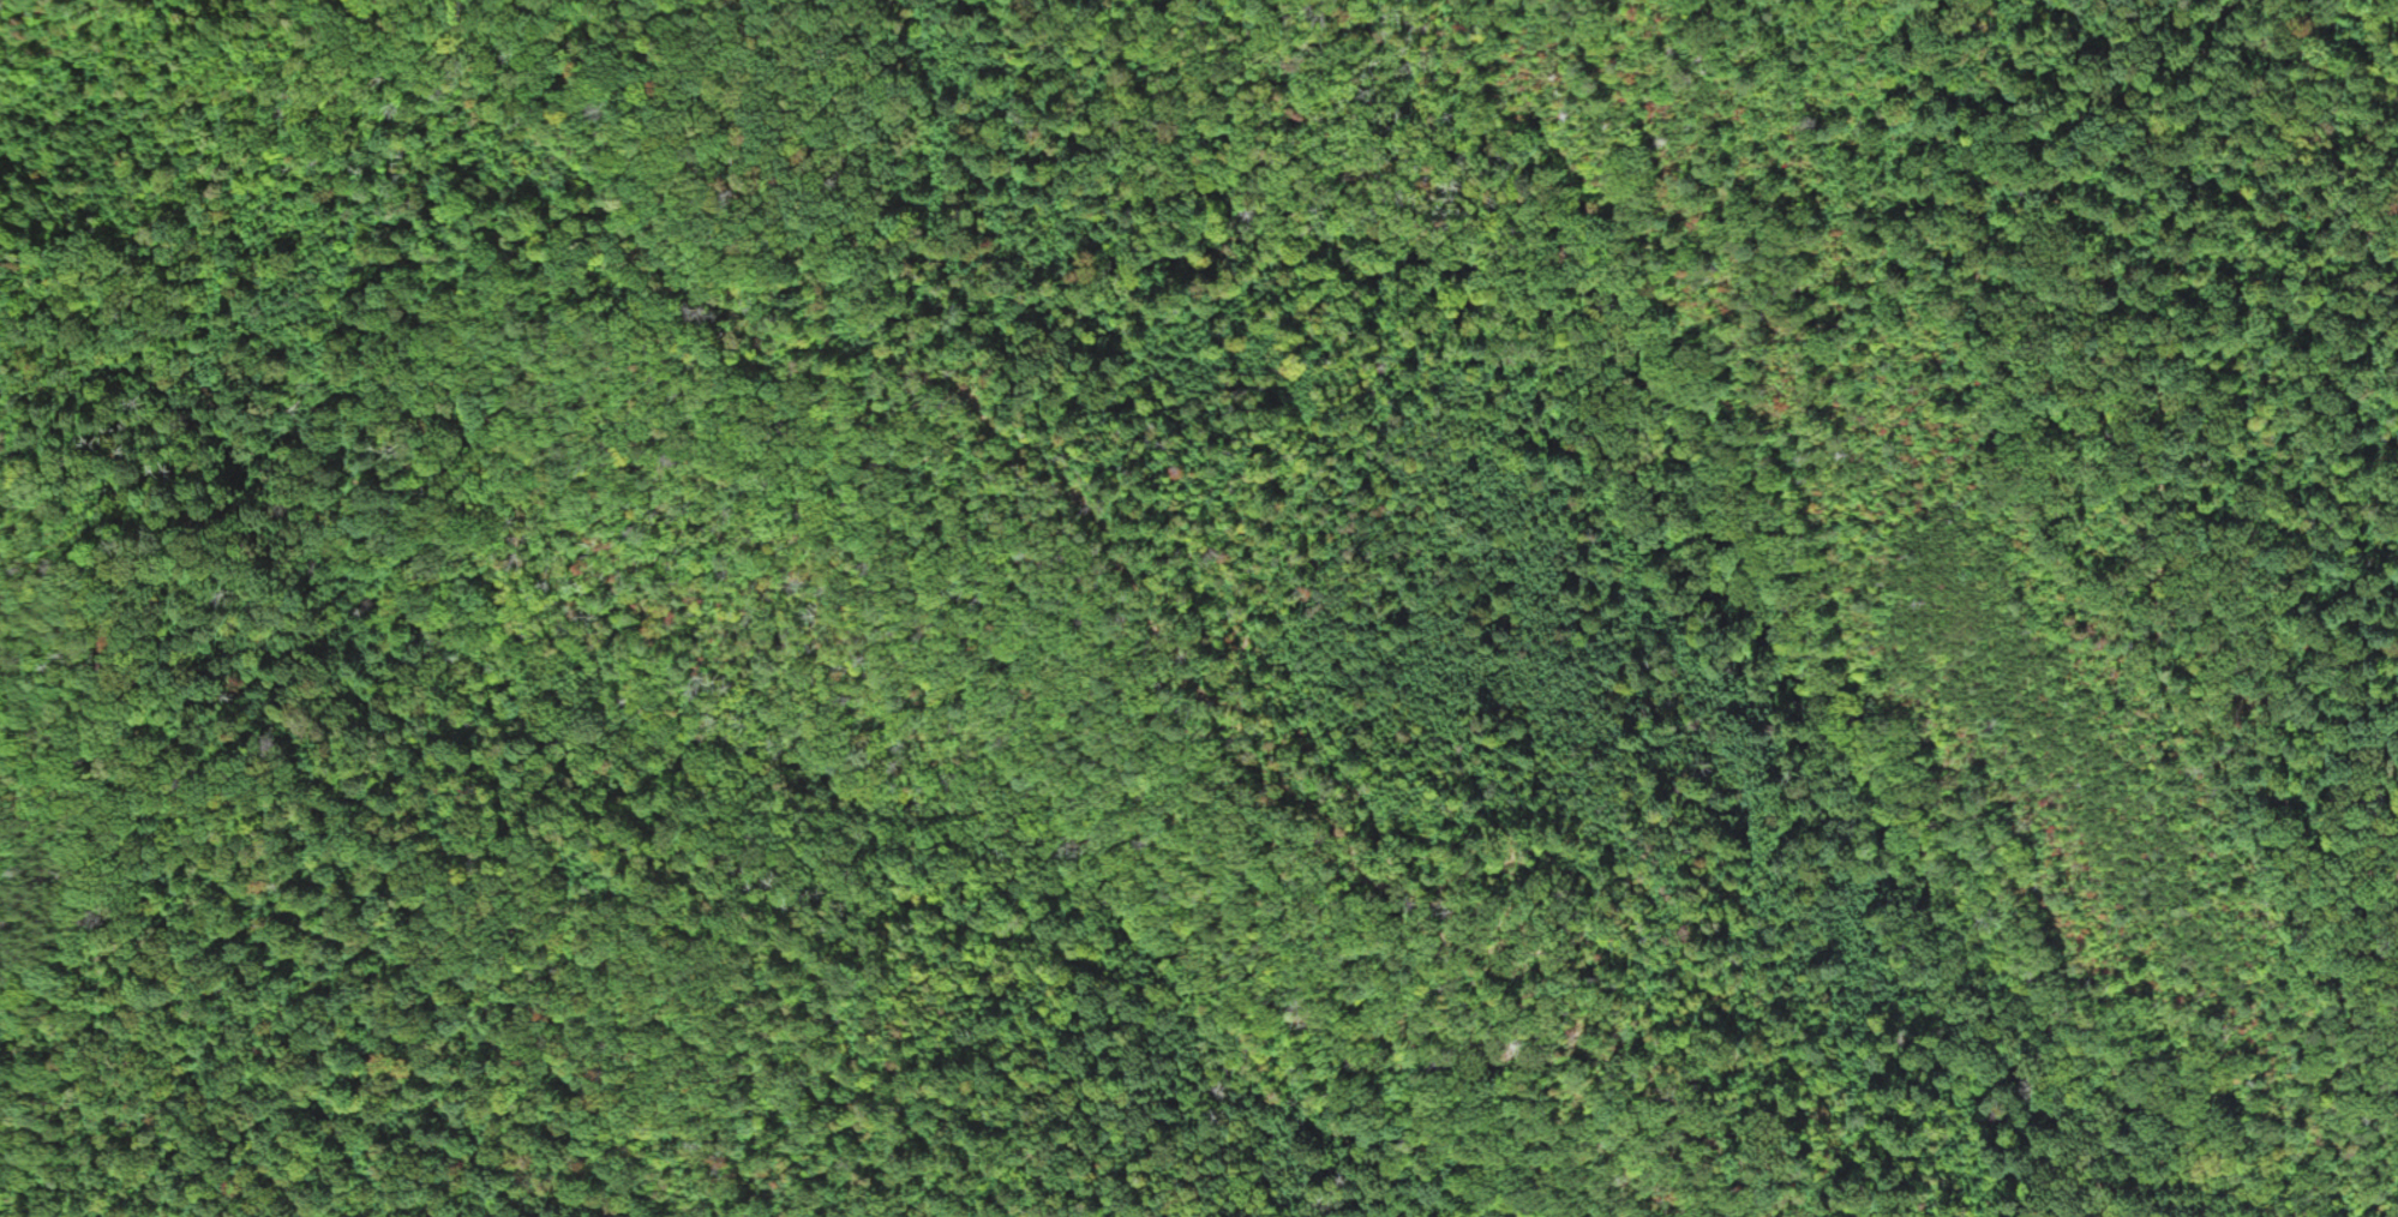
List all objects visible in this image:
road: (1808, 687)
road: (793, 978)

